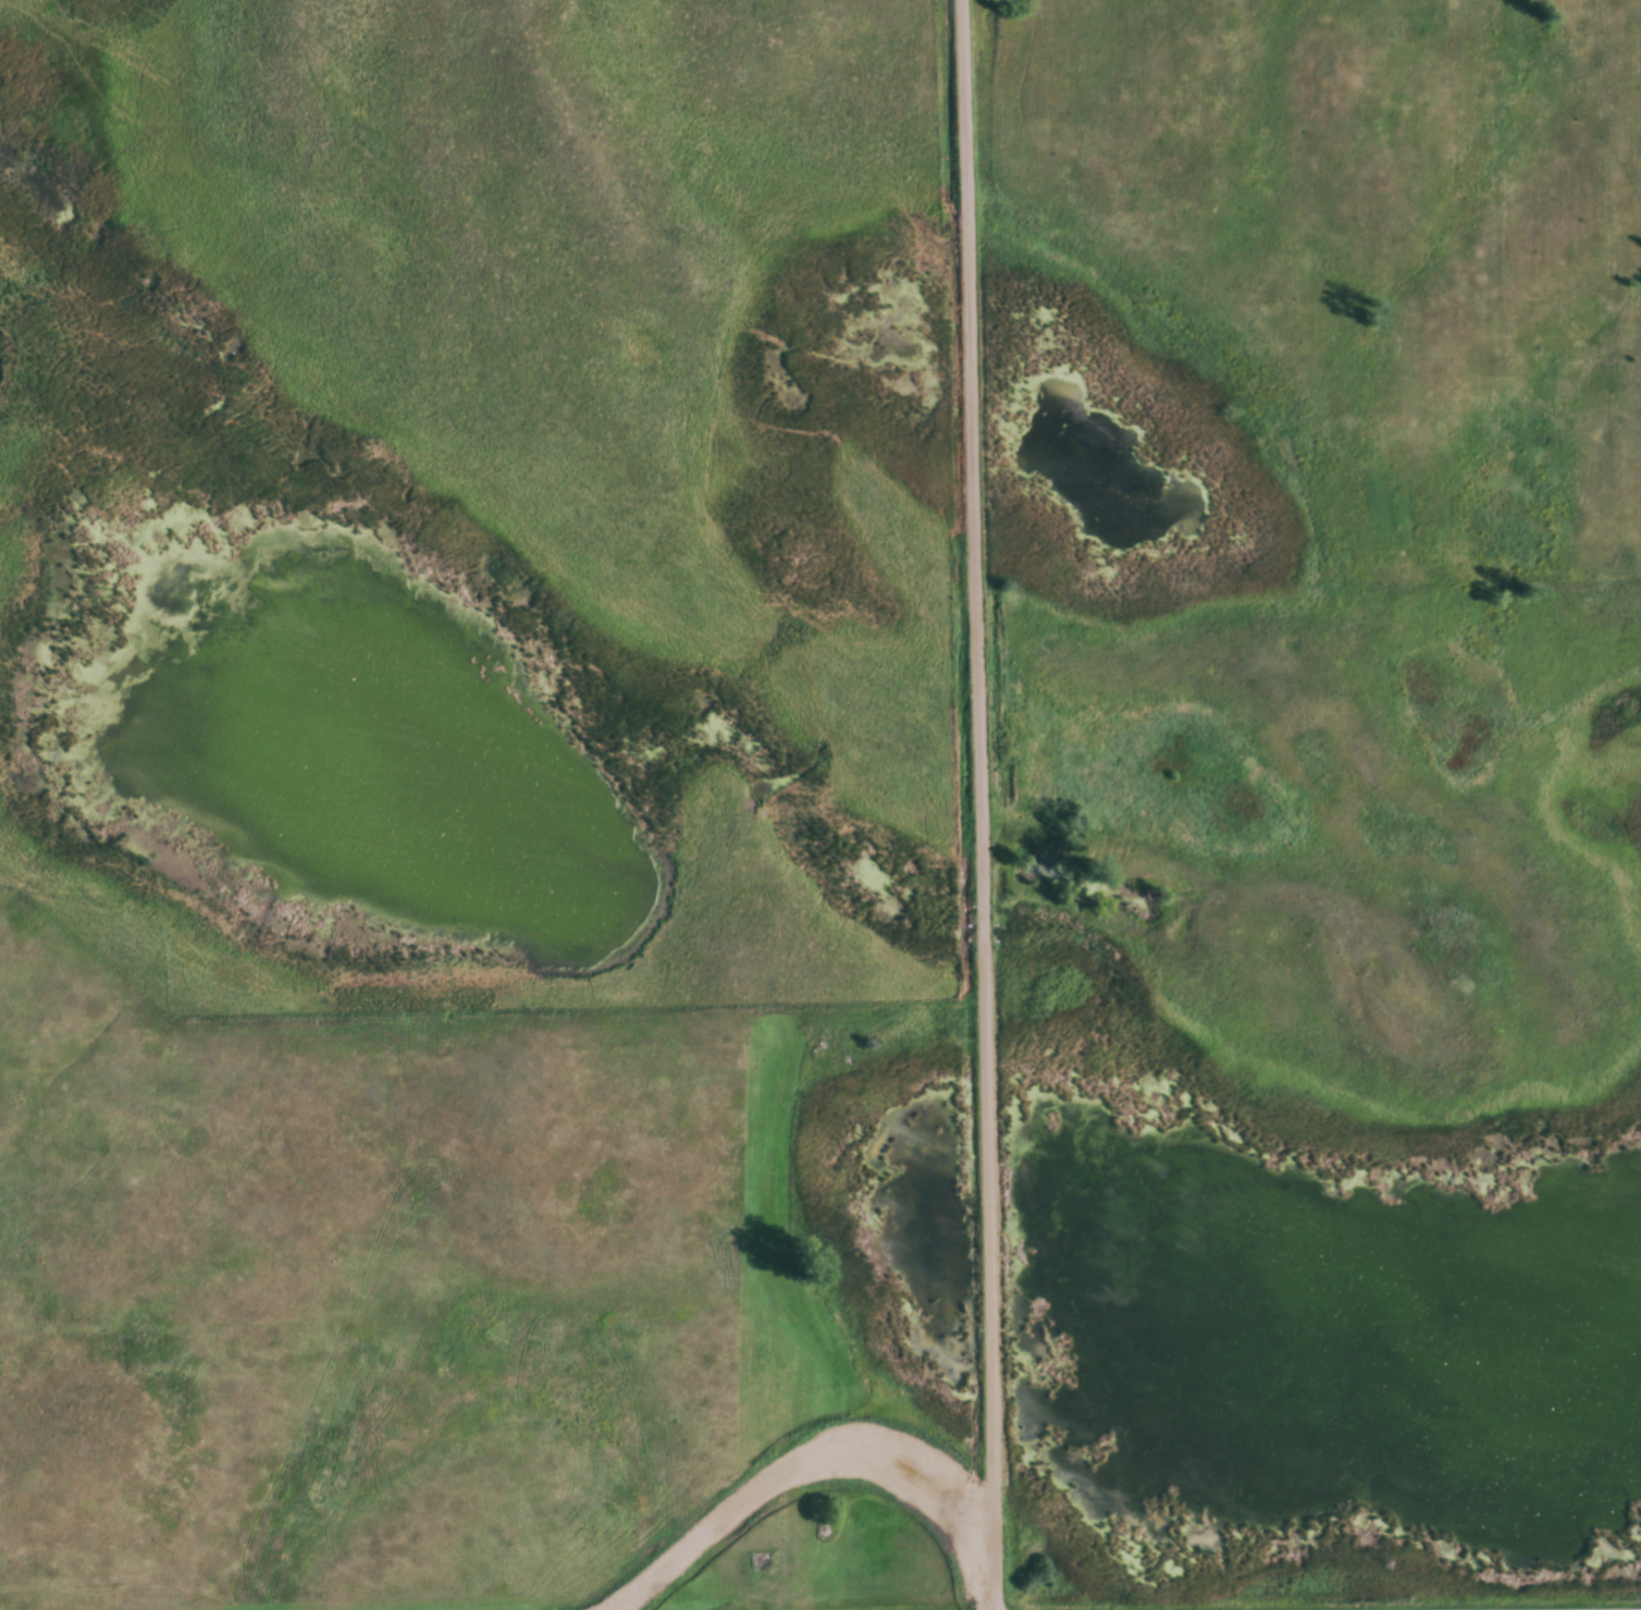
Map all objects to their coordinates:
river: (361, 689)
road: (983, 804)
river: (1232, 1194)
river: (1506, 1304)
river: (1259, 1424)

